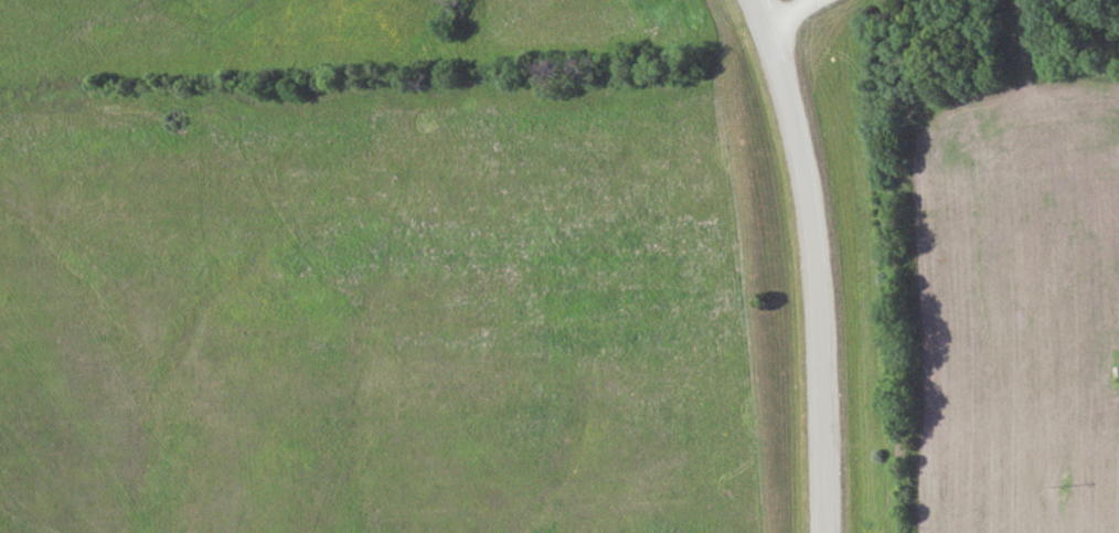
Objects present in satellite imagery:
road: (795, 13)
road: (814, 263)

